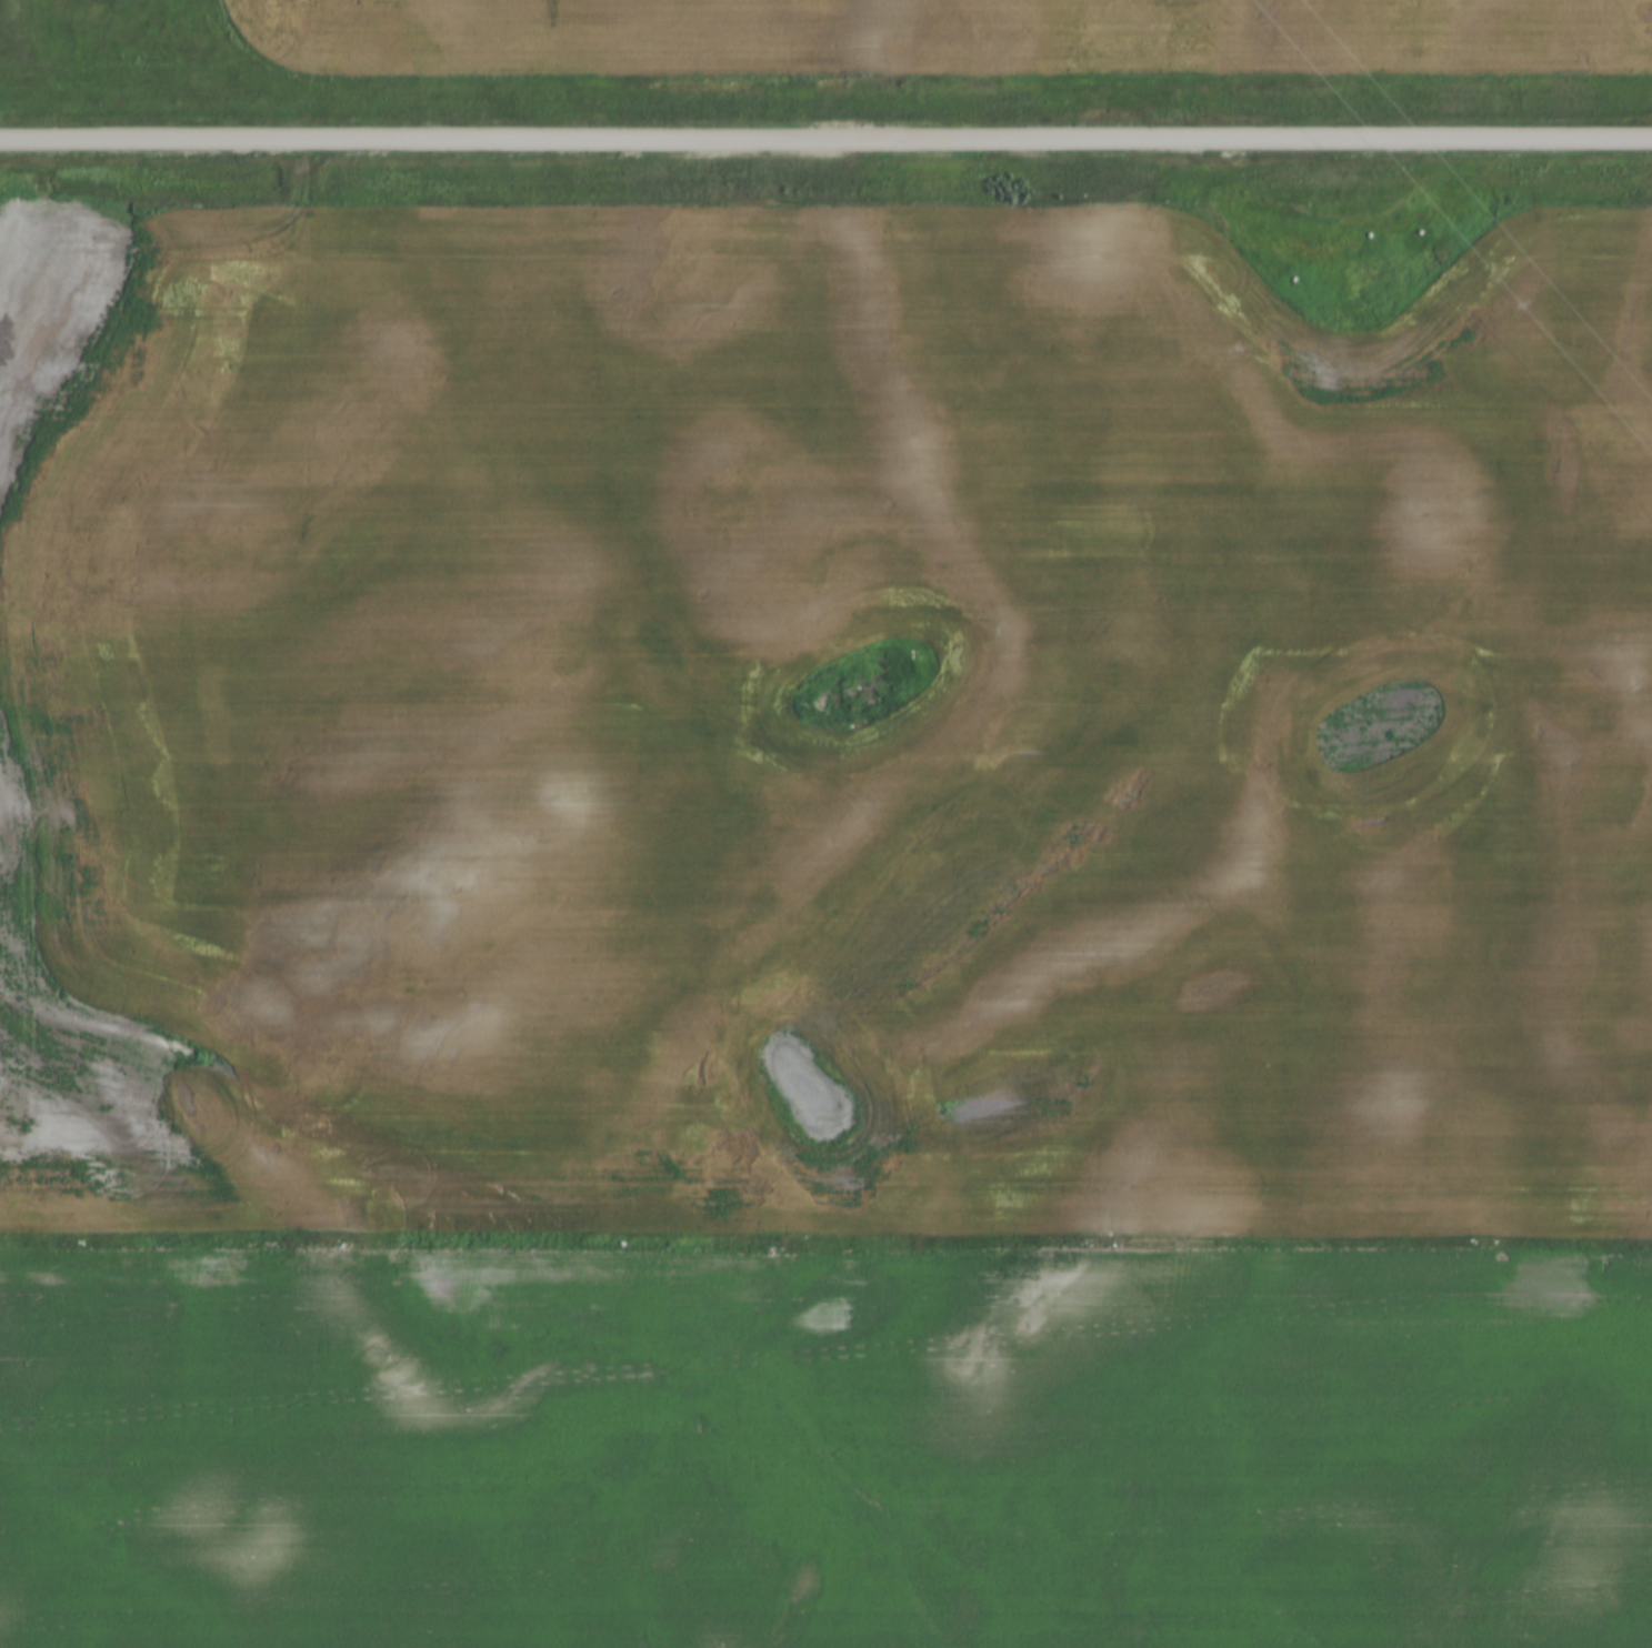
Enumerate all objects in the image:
road: (825, 139)

